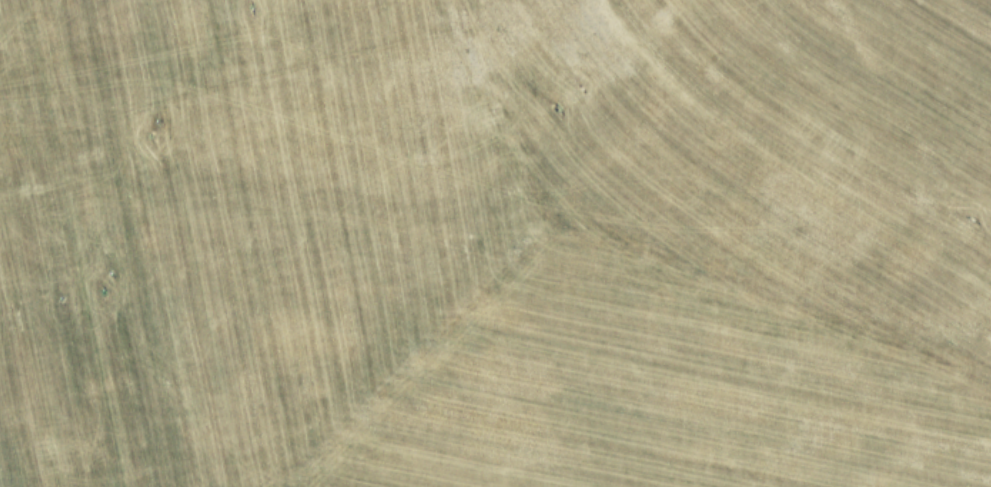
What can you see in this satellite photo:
crop: (495, 243)

